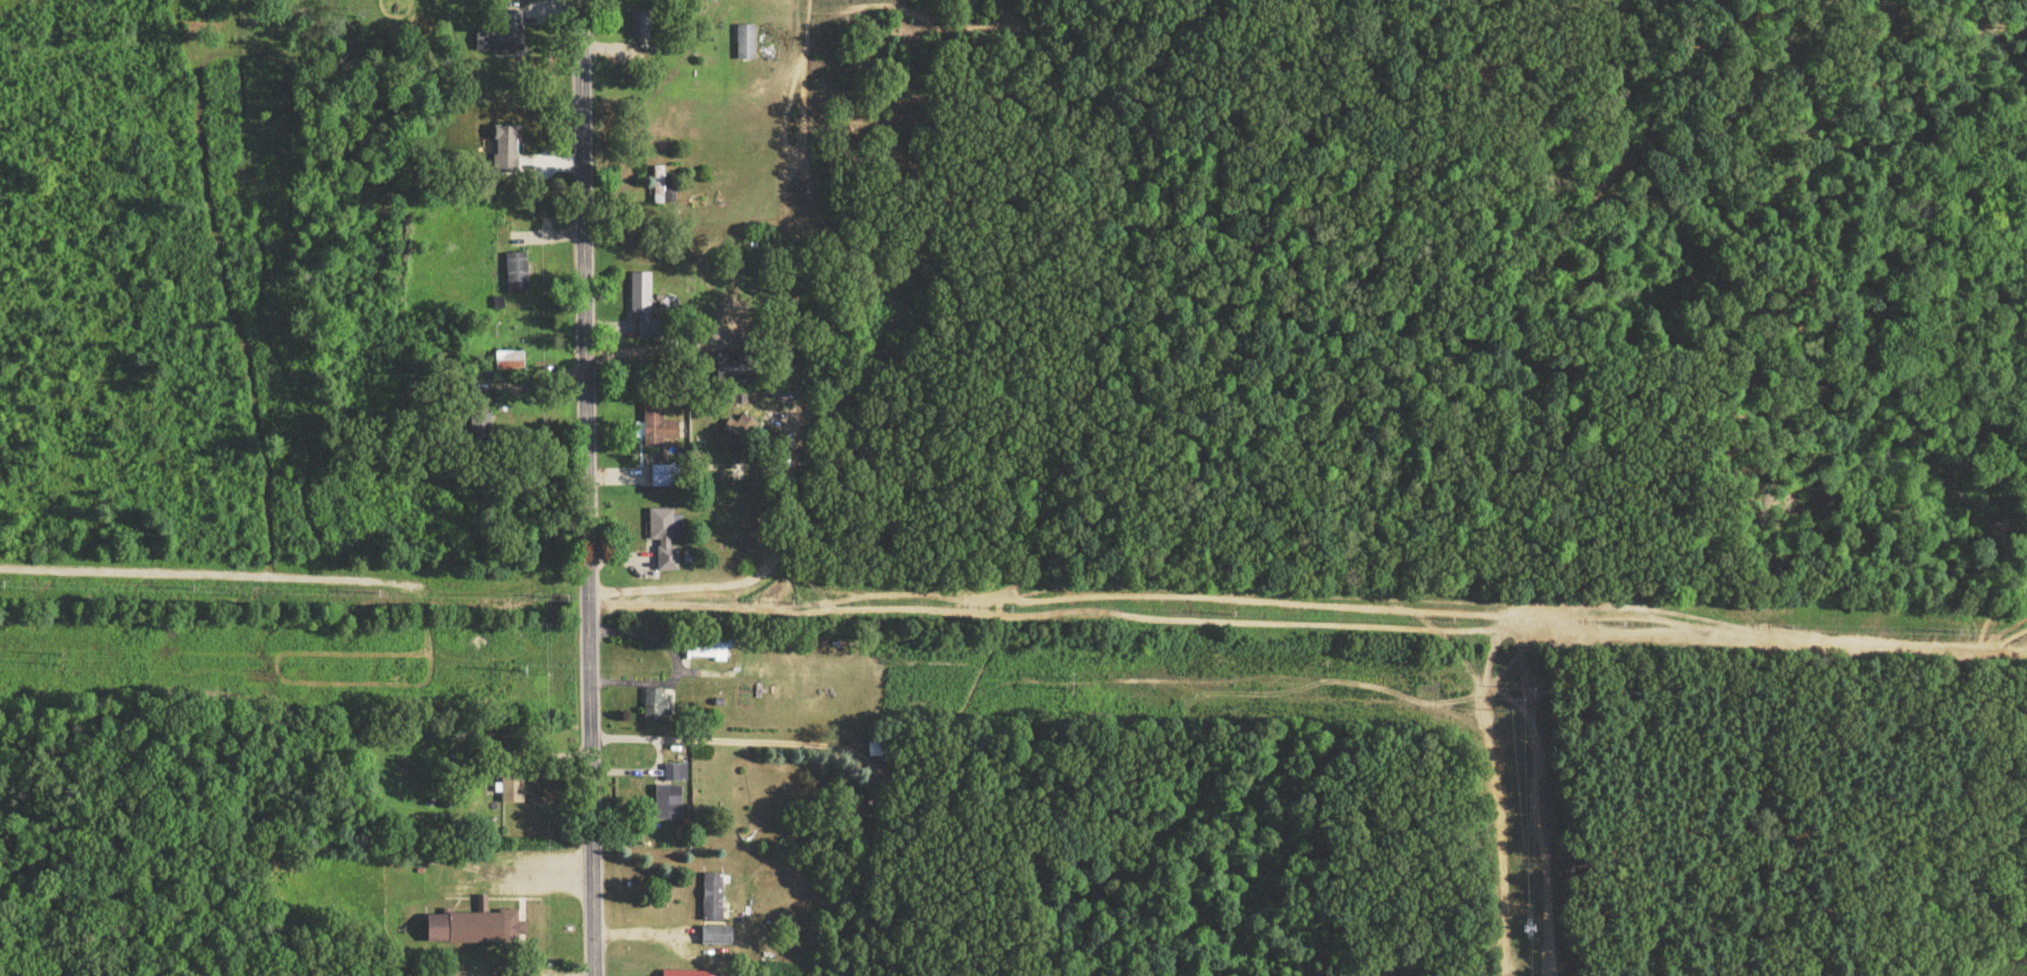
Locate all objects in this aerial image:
building: (640, 33)
building: (746, 45)
building: (507, 148)
building: (661, 190)
building: (517, 239)
building: (518, 275)
building: (641, 297)
road: (682, 340)
road: (529, 373)
building: (660, 426)
building: (739, 437)
building: (666, 479)
road: (585, 488)
building: (667, 540)
road: (757, 571)
building: (710, 651)
road: (671, 661)
power tower: (52, 663)
power tower: (526, 672)
power tower: (1057, 688)
power tower: (1513, 697)
building: (653, 708)
road: (735, 733)
road: (534, 752)
building: (669, 804)
road: (538, 869)
building: (713, 900)
power tower: (1521, 930)
building: (475, 931)
building: (717, 939)
building: (687, 975)

